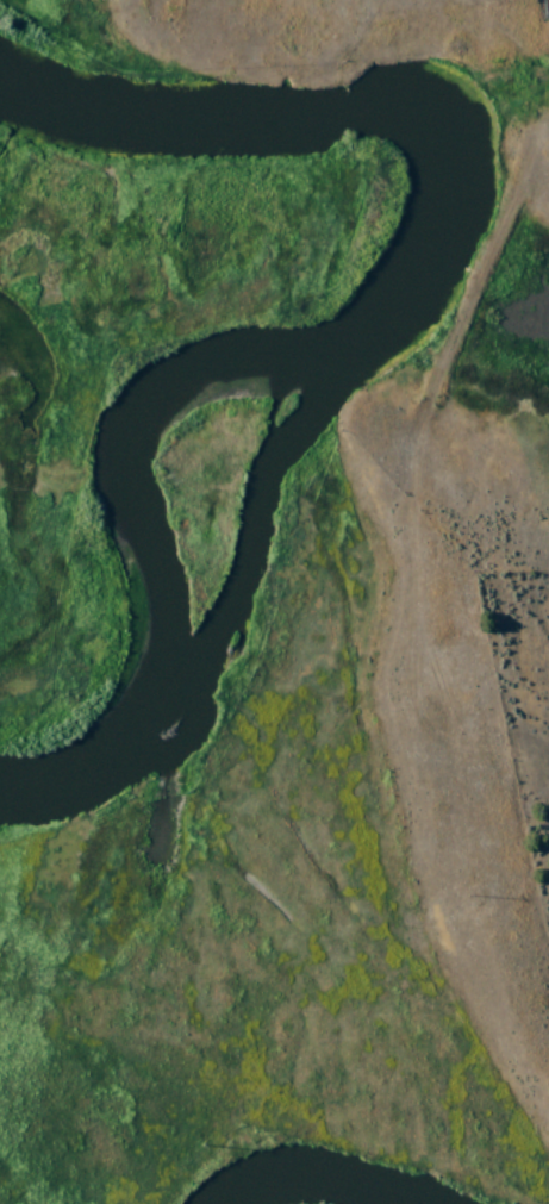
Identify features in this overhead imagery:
river: (338, 327)
river: (320, 1178)

